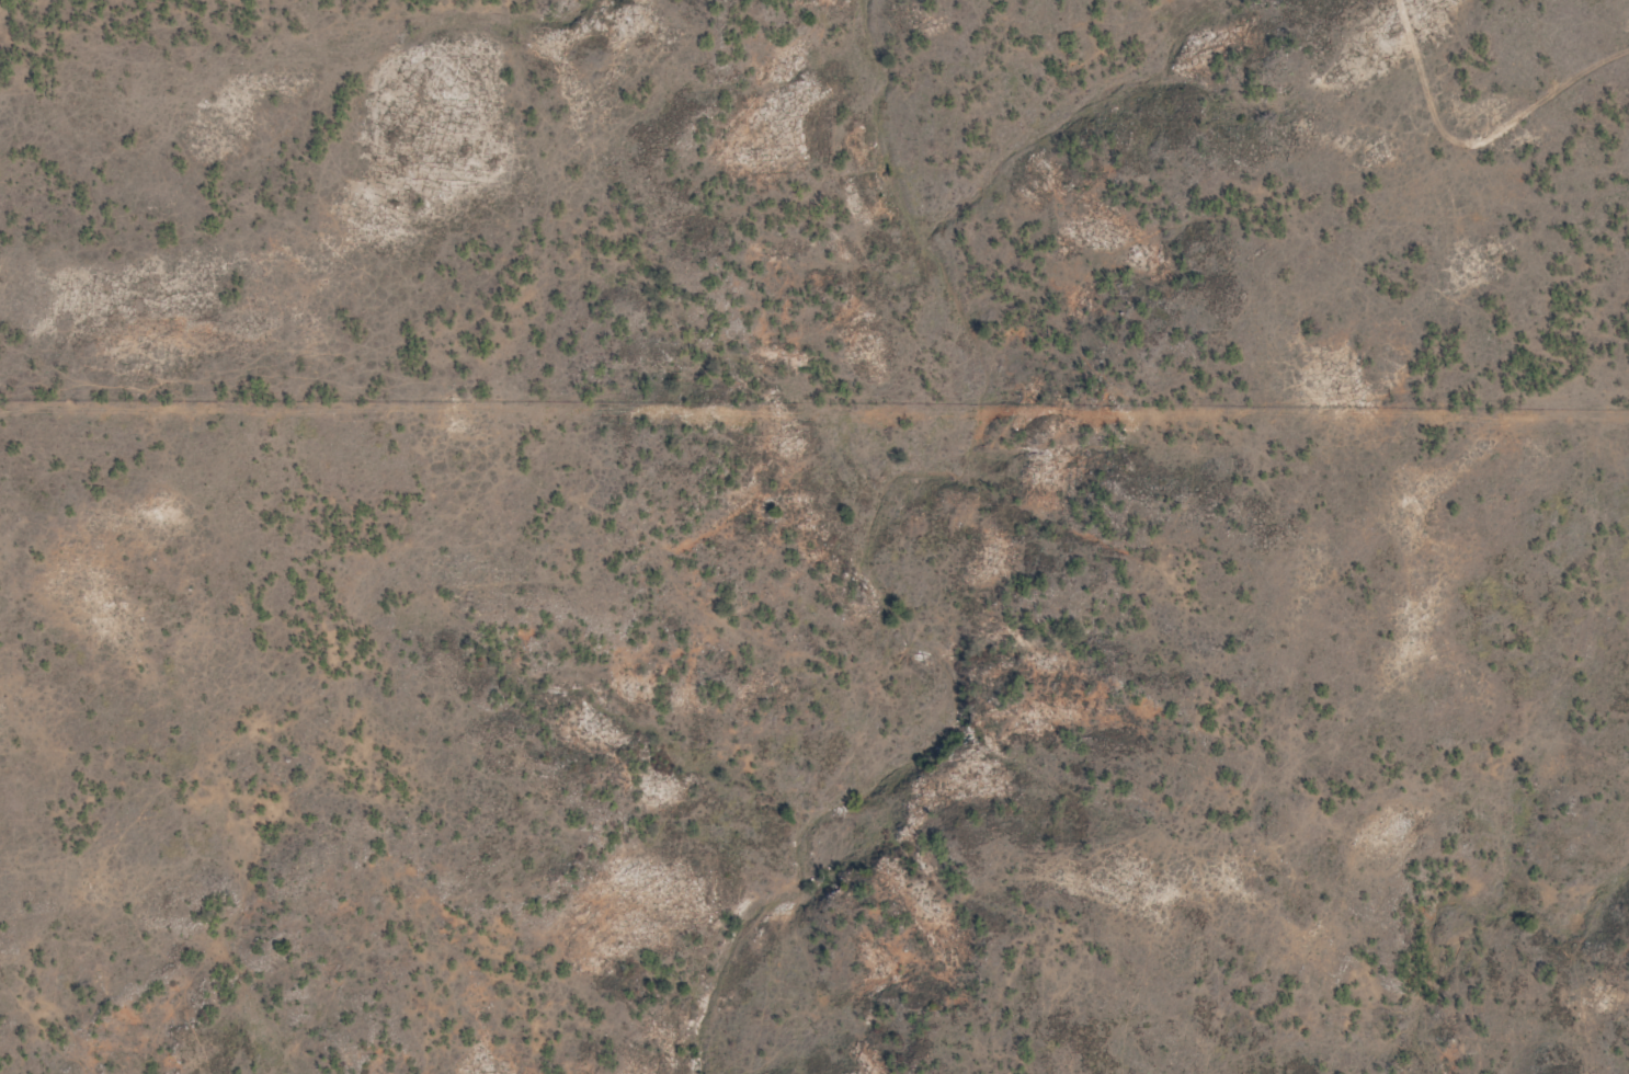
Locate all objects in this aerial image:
road: (1479, 125)
road: (846, 454)

